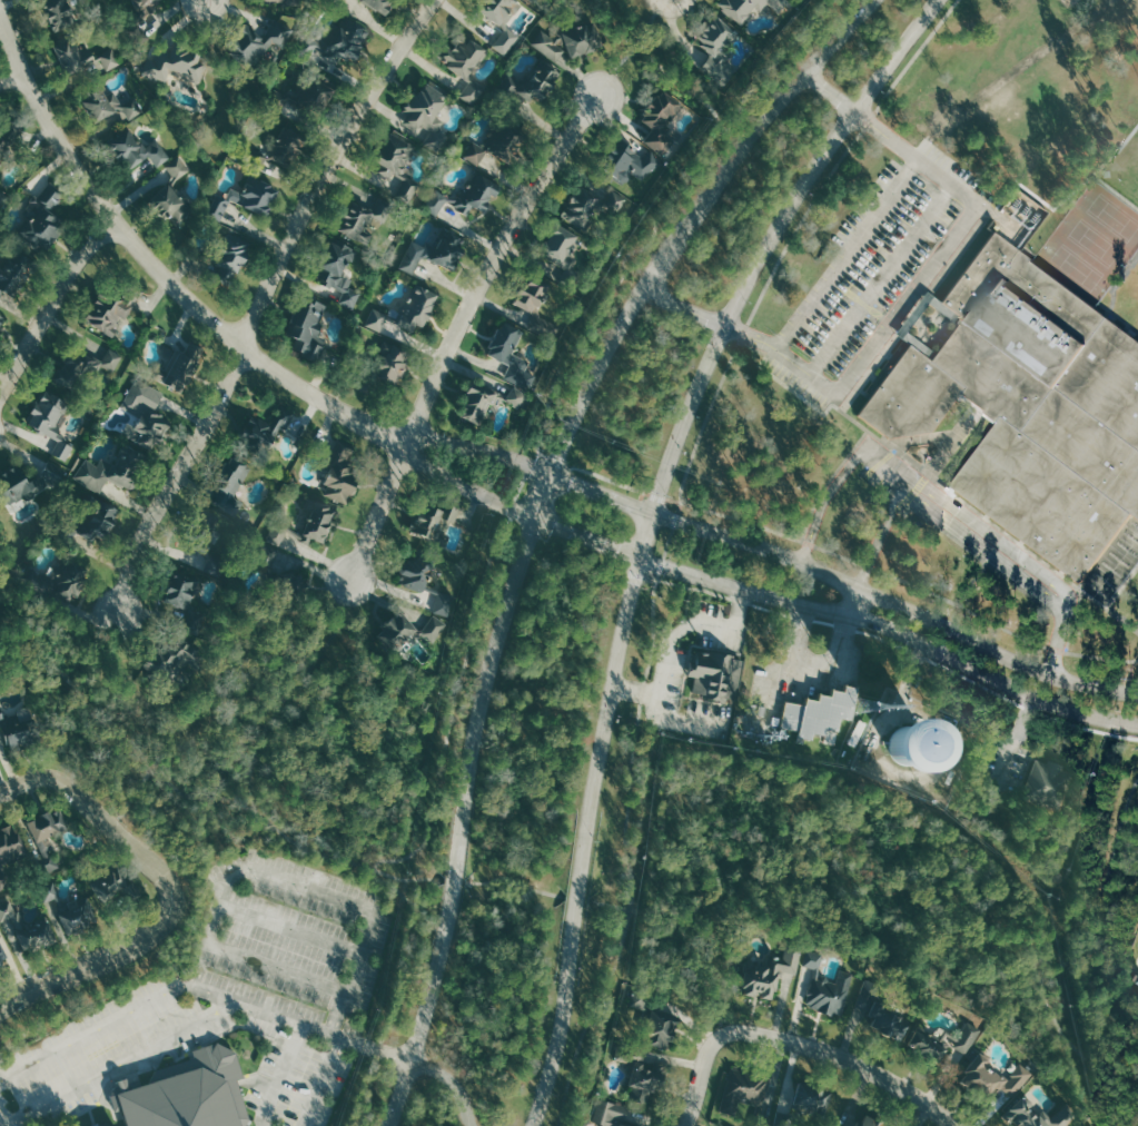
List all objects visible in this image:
building: (338, 0)
building: (279, 1)
building: (533, 1)
park: (1070, 2)
building: (378, 4)
building: (746, 6)
building: (55, 13)
building: (133, 20)
building: (498, 21)
road: (624, 21)
road: (647, 32)
building: (259, 38)
building: (580, 39)
building: (336, 40)
building: (716, 43)
building: (546, 46)
road: (916, 53)
building: (82, 55)
building: (172, 63)
building: (463, 65)
road: (13, 79)
building: (535, 81)
building: (507, 92)
building: (307, 93)
building: (103, 100)
building: (289, 106)
building: (661, 109)
building: (424, 112)
road: (730, 112)
road: (869, 119)
building: (7, 132)
building: (655, 140)
building: (503, 141)
building: (283, 146)
building: (133, 149)
building: (4, 150)
building: (473, 154)
building: (396, 162)
building: (626, 162)
building: (1047, 170)
storage tank: (1047, 170)
building: (476, 190)
building: (169, 195)
building: (2, 196)
building: (244, 196)
building: (614, 200)
building: (434, 201)
building: (581, 207)
building: (42, 217)
building: (363, 218)
road: (801, 224)
park: (1091, 243)
building: (558, 245)
building: (445, 249)
road: (848, 254)
building: (229, 255)
building: (409, 260)
parking lot: (873, 266)
road: (155, 267)
building: (337, 269)
building: (12, 270)
building: (568, 276)
road: (623, 277)
road: (880, 278)
building: (528, 293)
road: (267, 295)
road: (51, 303)
road: (908, 303)
building: (112, 307)
building: (415, 307)
building: (1, 318)
building: (375, 318)
building: (542, 326)
building: (306, 328)
road: (461, 328)
road: (743, 332)
building: (509, 354)
building: (389, 362)
building: (180, 366)
building: (79, 368)
building: (366, 384)
building: (514, 396)
building: (475, 403)
building: (1031, 404)
building: (144, 417)
building: (49, 418)
road: (706, 421)
building: (263, 431)
road: (556, 461)
road: (533, 462)
road: (532, 466)
building: (113, 467)
building: (338, 470)
traffic signals: (552, 470)
road: (608, 480)
building: (28, 481)
building: (228, 485)
road: (519, 487)
road: (664, 496)
road: (946, 502)
road: (513, 506)
road: (516, 511)
building: (449, 512)
traffic signals: (655, 513)
road: (677, 515)
road: (939, 517)
building: (319, 518)
building: (424, 518)
road: (532, 518)
building: (86, 521)
road: (742, 521)
traffic signals: (532, 522)
road: (650, 529)
building: (214, 536)
building: (204, 537)
road: (669, 543)
road: (839, 555)
traffic signals: (639, 562)
road: (661, 567)
building: (416, 570)
building: (268, 573)
building: (58, 579)
building: (184, 600)
road: (854, 602)
building: (442, 603)
road: (897, 604)
road: (958, 608)
building: (406, 630)
road: (891, 633)
road: (672, 638)
road: (96, 641)
road: (1051, 649)
building: (172, 656)
road: (1101, 658)
building: (715, 675)
road: (293, 692)
road: (454, 709)
building: (820, 712)
road: (682, 718)
building: (18, 731)
water tower: (911, 744)
building: (1049, 782)
road: (194, 793)
road: (131, 797)
road: (89, 806)
building: (47, 836)
building: (10, 853)
road: (629, 858)
road: (519, 883)
building: (113, 885)
road: (1100, 890)
road: (885, 902)
road: (1120, 905)
building: (71, 908)
building: (29, 930)
road: (409, 947)
building: (2, 951)
road: (106, 956)
building: (1, 965)
building: (770, 974)
road: (703, 976)
building: (829, 987)
parking lot: (232, 998)
building: (640, 999)
building: (891, 1021)
road: (92, 1029)
building: (662, 1029)
road: (343, 1038)
building: (944, 1041)
road: (378, 1049)
road: (832, 1055)
road: (121, 1061)
building: (997, 1076)
road: (324, 1081)
building: (644, 1083)
building: (748, 1090)
building: (189, 1092)
road: (369, 1092)
road: (696, 1092)
building: (805, 1098)
road: (1135, 1114)
building: (620, 1115)
building: (1036, 1115)
building: (873, 1123)

